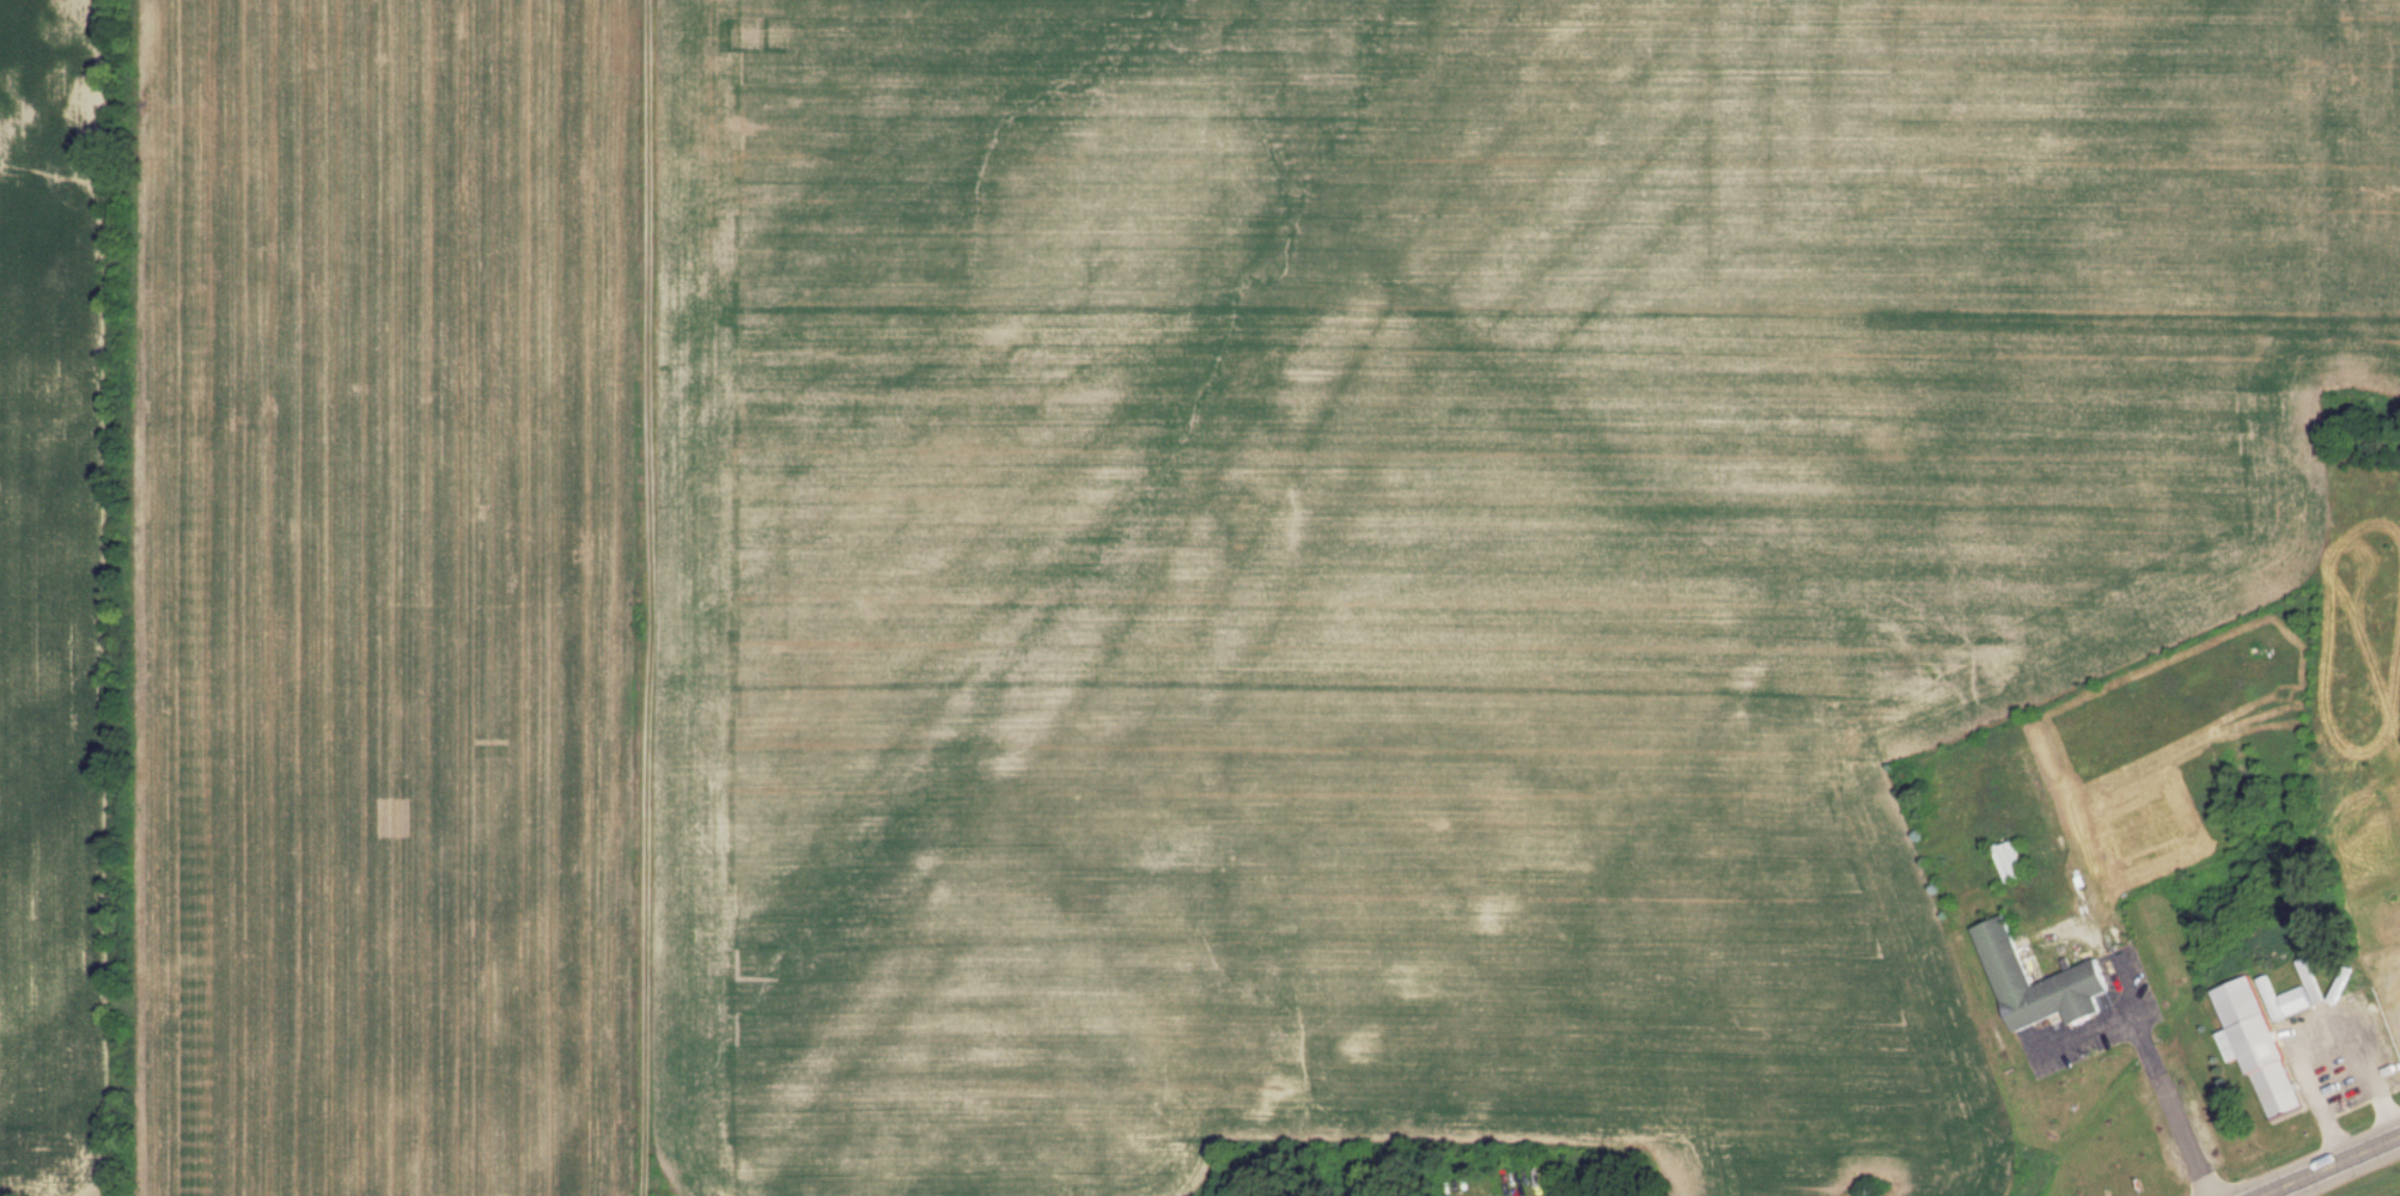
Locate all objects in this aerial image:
building: (2036, 982)
building: (2296, 1000)
building: (2256, 1045)
road: (2329, 1166)

